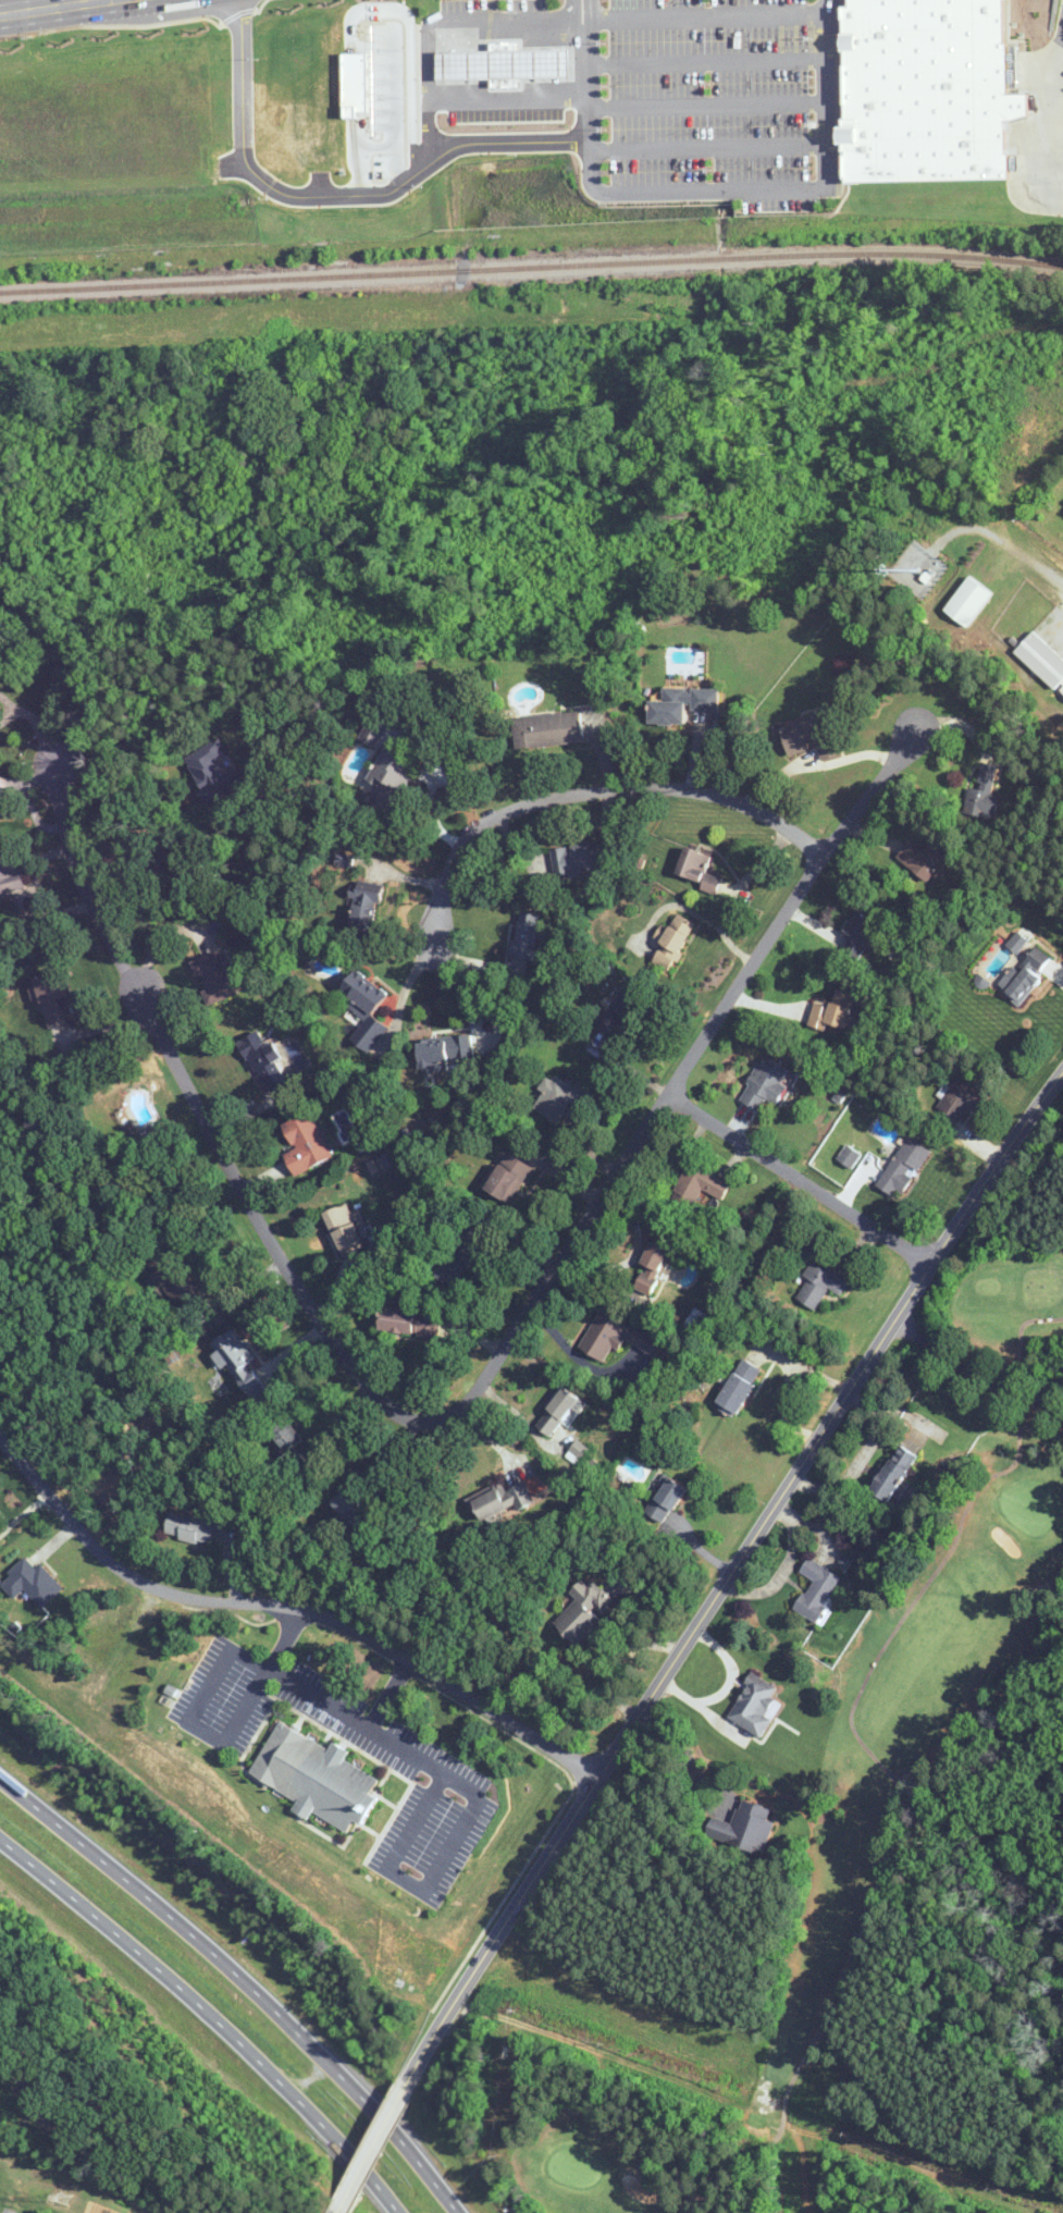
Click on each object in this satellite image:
road: (53, 8)
road: (580, 10)
road: (705, 17)
road: (478, 28)
road: (706, 50)
building: (502, 70)
road: (707, 87)
road: (474, 90)
building: (927, 91)
road: (589, 98)
road: (826, 99)
road: (709, 152)
road: (338, 197)
road: (709, 197)
railway: (531, 263)
road: (1036, 562)
building: (967, 602)
building: (1042, 661)
road: (4, 696)
building: (681, 704)
road: (9, 712)
road: (39, 725)
building: (548, 729)
building: (373, 731)
building: (811, 737)
building: (212, 771)
building: (388, 778)
road: (591, 791)
building: (982, 794)
building: (2, 808)
road: (160, 857)
building: (580, 858)
building: (925, 858)
building: (696, 869)
building: (9, 875)
building: (364, 909)
building: (858, 934)
building: (526, 935)
building: (673, 939)
road: (160, 940)
building: (1017, 942)
building: (1025, 975)
building: (213, 978)
building: (52, 995)
building: (364, 1009)
building: (833, 1010)
building: (619, 1011)
road: (475, 1012)
building: (445, 1049)
building: (263, 1060)
building: (765, 1083)
building: (559, 1096)
building: (962, 1096)
building: (305, 1143)
building: (894, 1167)
building: (508, 1177)
road: (799, 1179)
building: (700, 1184)
building: (346, 1230)
building: (461, 1254)
building: (654, 1266)
building: (175, 1278)
building: (819, 1284)
building: (409, 1321)
building: (621, 1338)
building: (237, 1361)
road: (975, 1374)
building: (738, 1387)
road: (462, 1405)
building: (557, 1412)
building: (519, 1437)
building: (288, 1443)
building: (892, 1473)
building: (500, 1500)
building: (666, 1500)
building: (351, 1509)
building: (190, 1529)
road: (783, 1569)
road: (729, 1574)
building: (32, 1583)
building: (816, 1589)
road: (289, 1607)
building: (583, 1611)
road: (264, 1675)
road: (206, 1684)
road: (388, 1695)
building: (754, 1705)
road: (685, 1751)
building: (314, 1778)
road: (477, 1803)
building: (745, 1828)
park: (891, 1885)
road: (240, 1980)
road: (207, 2015)
road: (369, 2146)
power tower: (64, 2198)
road: (334, 2211)
road: (10, 2212)

